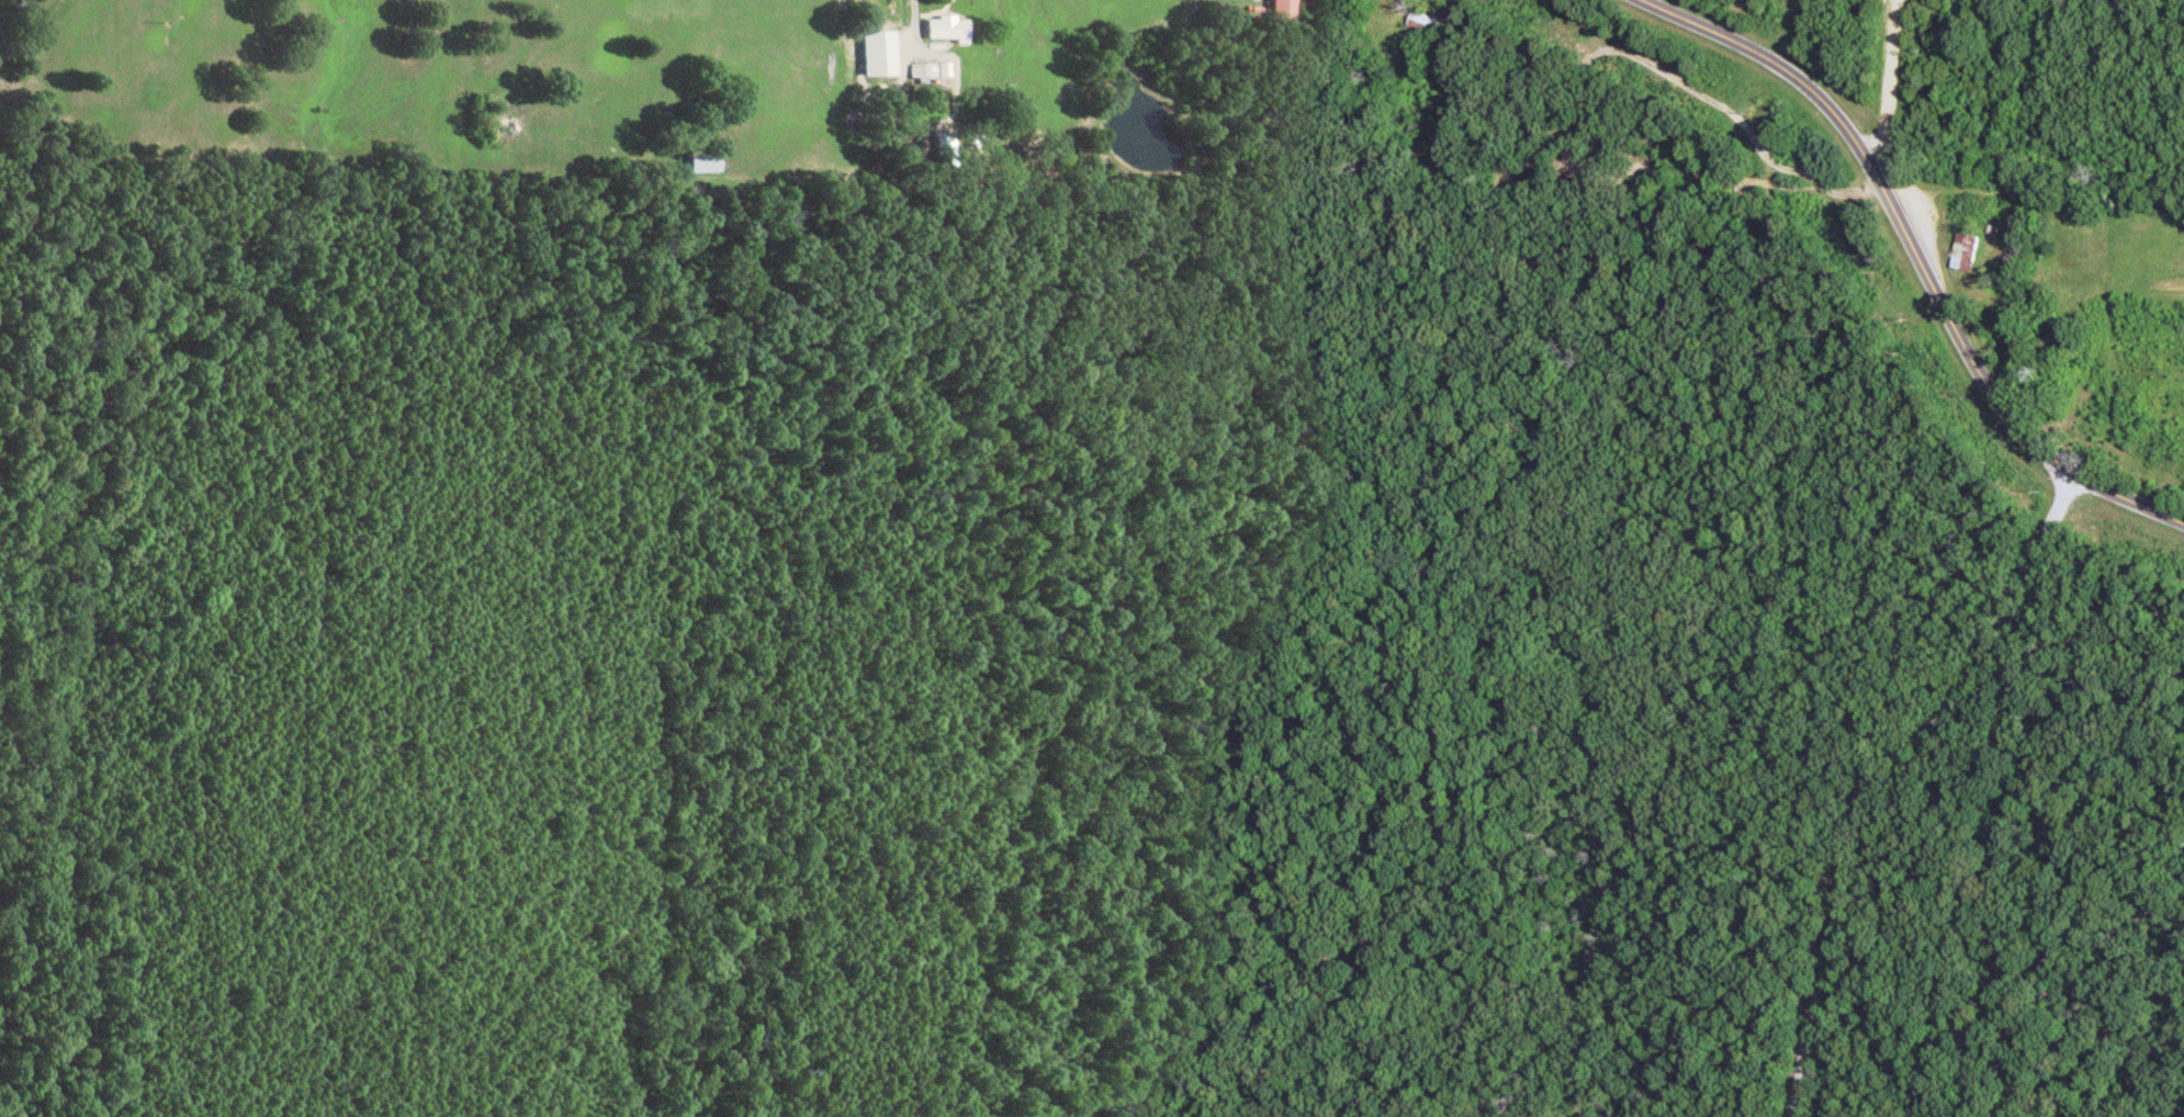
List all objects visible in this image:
building: (1422, 0)
road: (1889, 1)
building: (1273, 11)
building: (941, 32)
building: (916, 75)
road: (1873, 87)
building: (697, 166)
building: (1958, 253)
road: (1910, 259)

